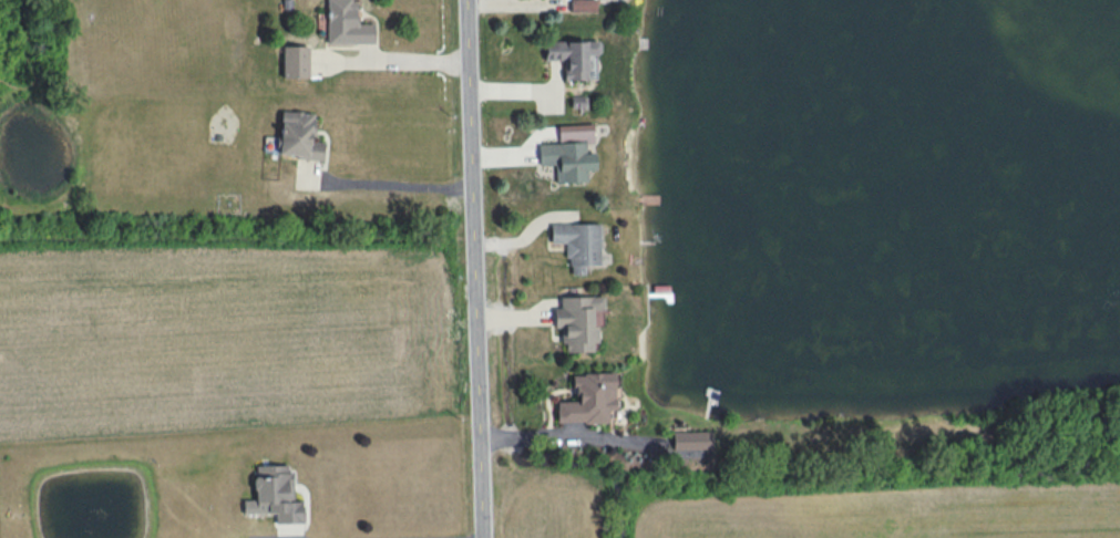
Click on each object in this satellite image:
road: (500, 2)
building: (583, 6)
building: (347, 23)
building: (574, 58)
building: (295, 61)
road: (397, 62)
building: (575, 132)
building: (298, 135)
building: (567, 159)
road: (390, 178)
building: (578, 244)
road: (480, 268)
building: (578, 321)
building: (588, 399)
building: (691, 441)
building: (274, 494)

